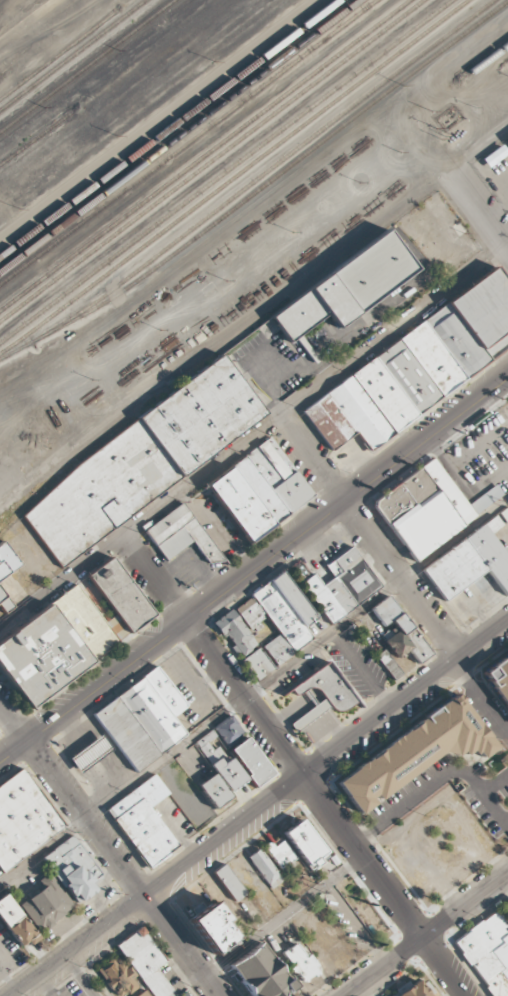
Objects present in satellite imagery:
railway: (60, 52)
railway: (494, 56)
railway: (73, 57)
railway: (86, 65)
railway: (451, 68)
railway: (167, 126)
railway: (37, 133)
railway: (177, 134)
building: (507, 137)
building: (507, 139)
railway: (186, 141)
railway: (202, 153)
railway: (211, 160)
railway: (275, 166)
railway: (223, 169)
railway: (233, 175)
railway: (259, 187)
road: (476, 210)
building: (346, 288)
building: (415, 368)
road: (255, 439)
building: (141, 461)
building: (259, 490)
building: (429, 508)
building: (181, 535)
road: (268, 557)
building: (6, 561)
building: (469, 562)
road: (395, 569)
building: (342, 585)
building: (4, 602)
building: (278, 616)
building: (398, 631)
building: (234, 632)
building: (71, 634)
road: (215, 656)
building: (258, 664)
building: (388, 664)
building: (498, 678)
road: (253, 690)
building: (323, 694)
building: (143, 718)
road: (14, 720)
road: (14, 749)
building: (210, 751)
building: (413, 753)
building: (90, 754)
road: (327, 760)
building: (251, 761)
building: (214, 790)
building: (23, 818)
road: (88, 818)
building: (143, 821)
building: (304, 844)
building: (281, 854)
building: (265, 868)
building: (72, 869)
building: (229, 883)
road: (327, 884)
road: (386, 886)
building: (47, 905)
building: (15, 922)
building: (213, 928)
road: (428, 935)
road: (82, 947)
road: (183, 947)
building: (488, 952)
parking lot: (9, 959)
building: (146, 962)
building: (300, 963)
building: (262, 974)
building: (117, 977)
parking lot: (70, 989)
building: (412, 990)
building: (144, 994)
building: (182, 994)

